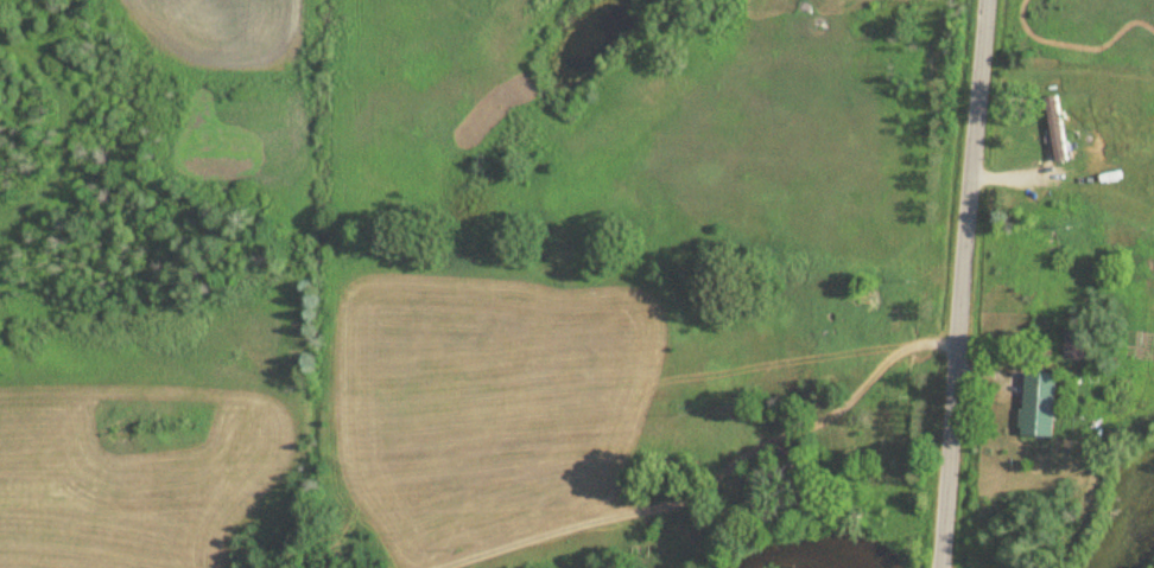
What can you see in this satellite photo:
building: (1053, 129)
road: (962, 283)
building: (1073, 342)
building: (1035, 403)

